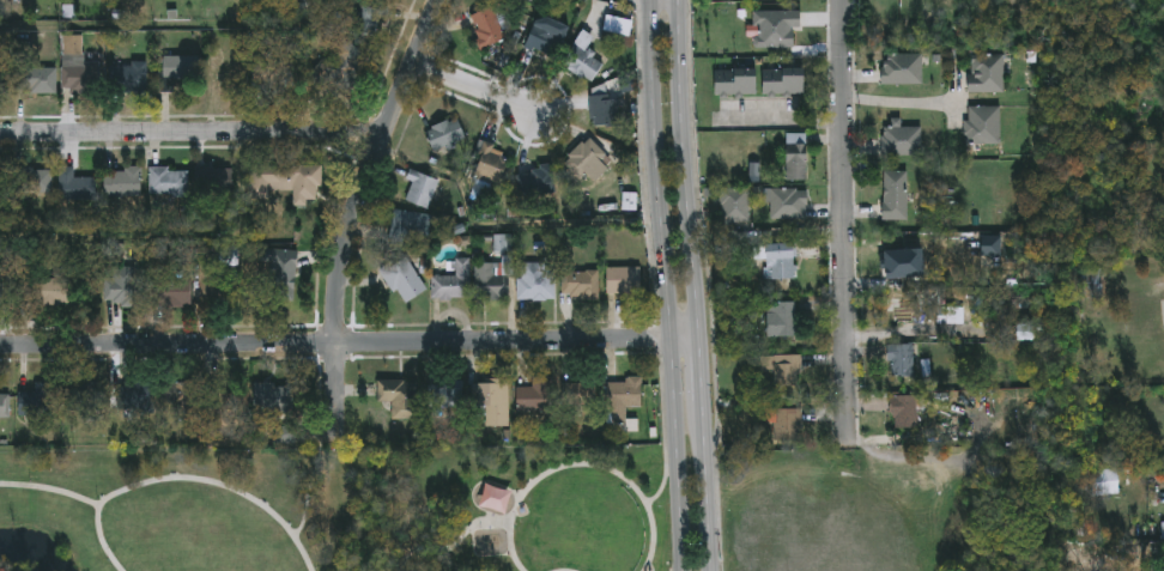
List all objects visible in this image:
building: (370, 20)
building: (619, 23)
building: (489, 29)
building: (545, 42)
building: (584, 63)
building: (903, 67)
building: (182, 69)
building: (988, 71)
building: (271, 73)
building: (79, 78)
building: (132, 79)
building: (736, 80)
building: (40, 81)
building: (786, 81)
road: (474, 87)
road: (902, 99)
building: (606, 111)
road: (782, 122)
building: (984, 124)
road: (193, 132)
building: (447, 135)
building: (902, 139)
building: (796, 154)
building: (586, 160)
building: (491, 166)
road: (687, 169)
building: (35, 183)
building: (538, 183)
building: (123, 184)
building: (169, 184)
building: (218, 184)
building: (297, 184)
building: (77, 188)
building: (422, 190)
building: (896, 193)
building: (787, 201)
building: (735, 204)
road: (353, 214)
road: (847, 224)
building: (411, 226)
building: (898, 263)
building: (783, 266)
building: (404, 280)
building: (536, 283)
building: (625, 283)
building: (1092, 283)
building: (455, 284)
road: (669, 285)
building: (581, 286)
building: (213, 287)
building: (6, 290)
building: (125, 290)
building: (50, 293)
building: (176, 294)
building: (907, 308)
building: (782, 317)
road: (351, 341)
building: (902, 358)
road: (703, 370)
building: (787, 371)
building: (445, 396)
building: (582, 396)
building: (87, 397)
building: (134, 397)
building: (536, 397)
building: (625, 397)
building: (183, 400)
building: (274, 400)
building: (400, 400)
building: (37, 401)
building: (2, 403)
building: (493, 406)
building: (904, 411)
building: (788, 423)
road: (580, 466)
road: (186, 478)
road: (663, 480)
road: (310, 487)
road: (709, 487)
road: (50, 488)
building: (496, 500)
park: (334, 509)
road: (454, 547)

